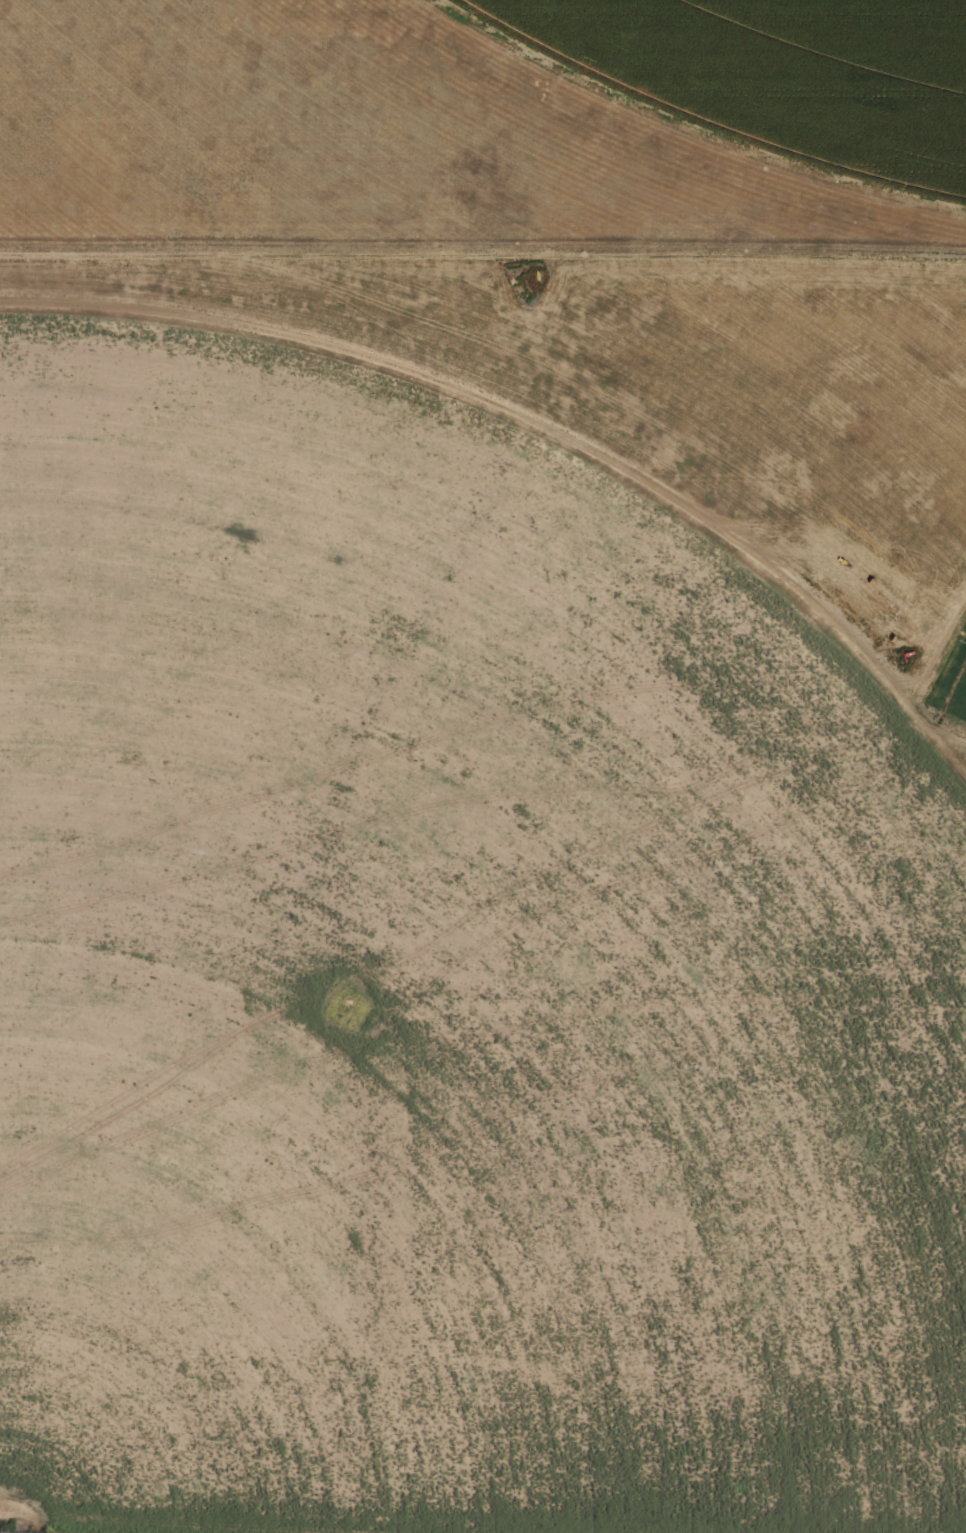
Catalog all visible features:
road: (483, 280)

